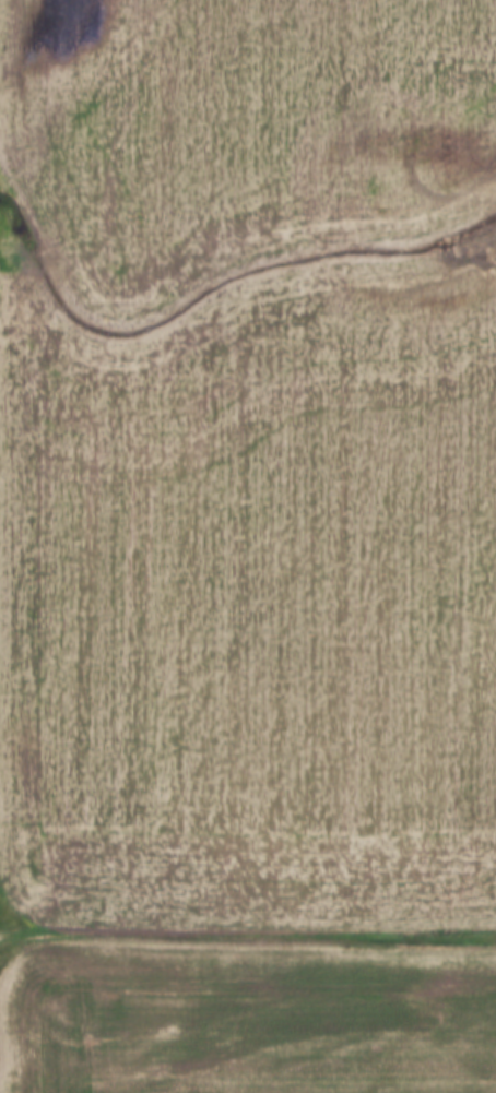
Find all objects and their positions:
road: (248, 934)

